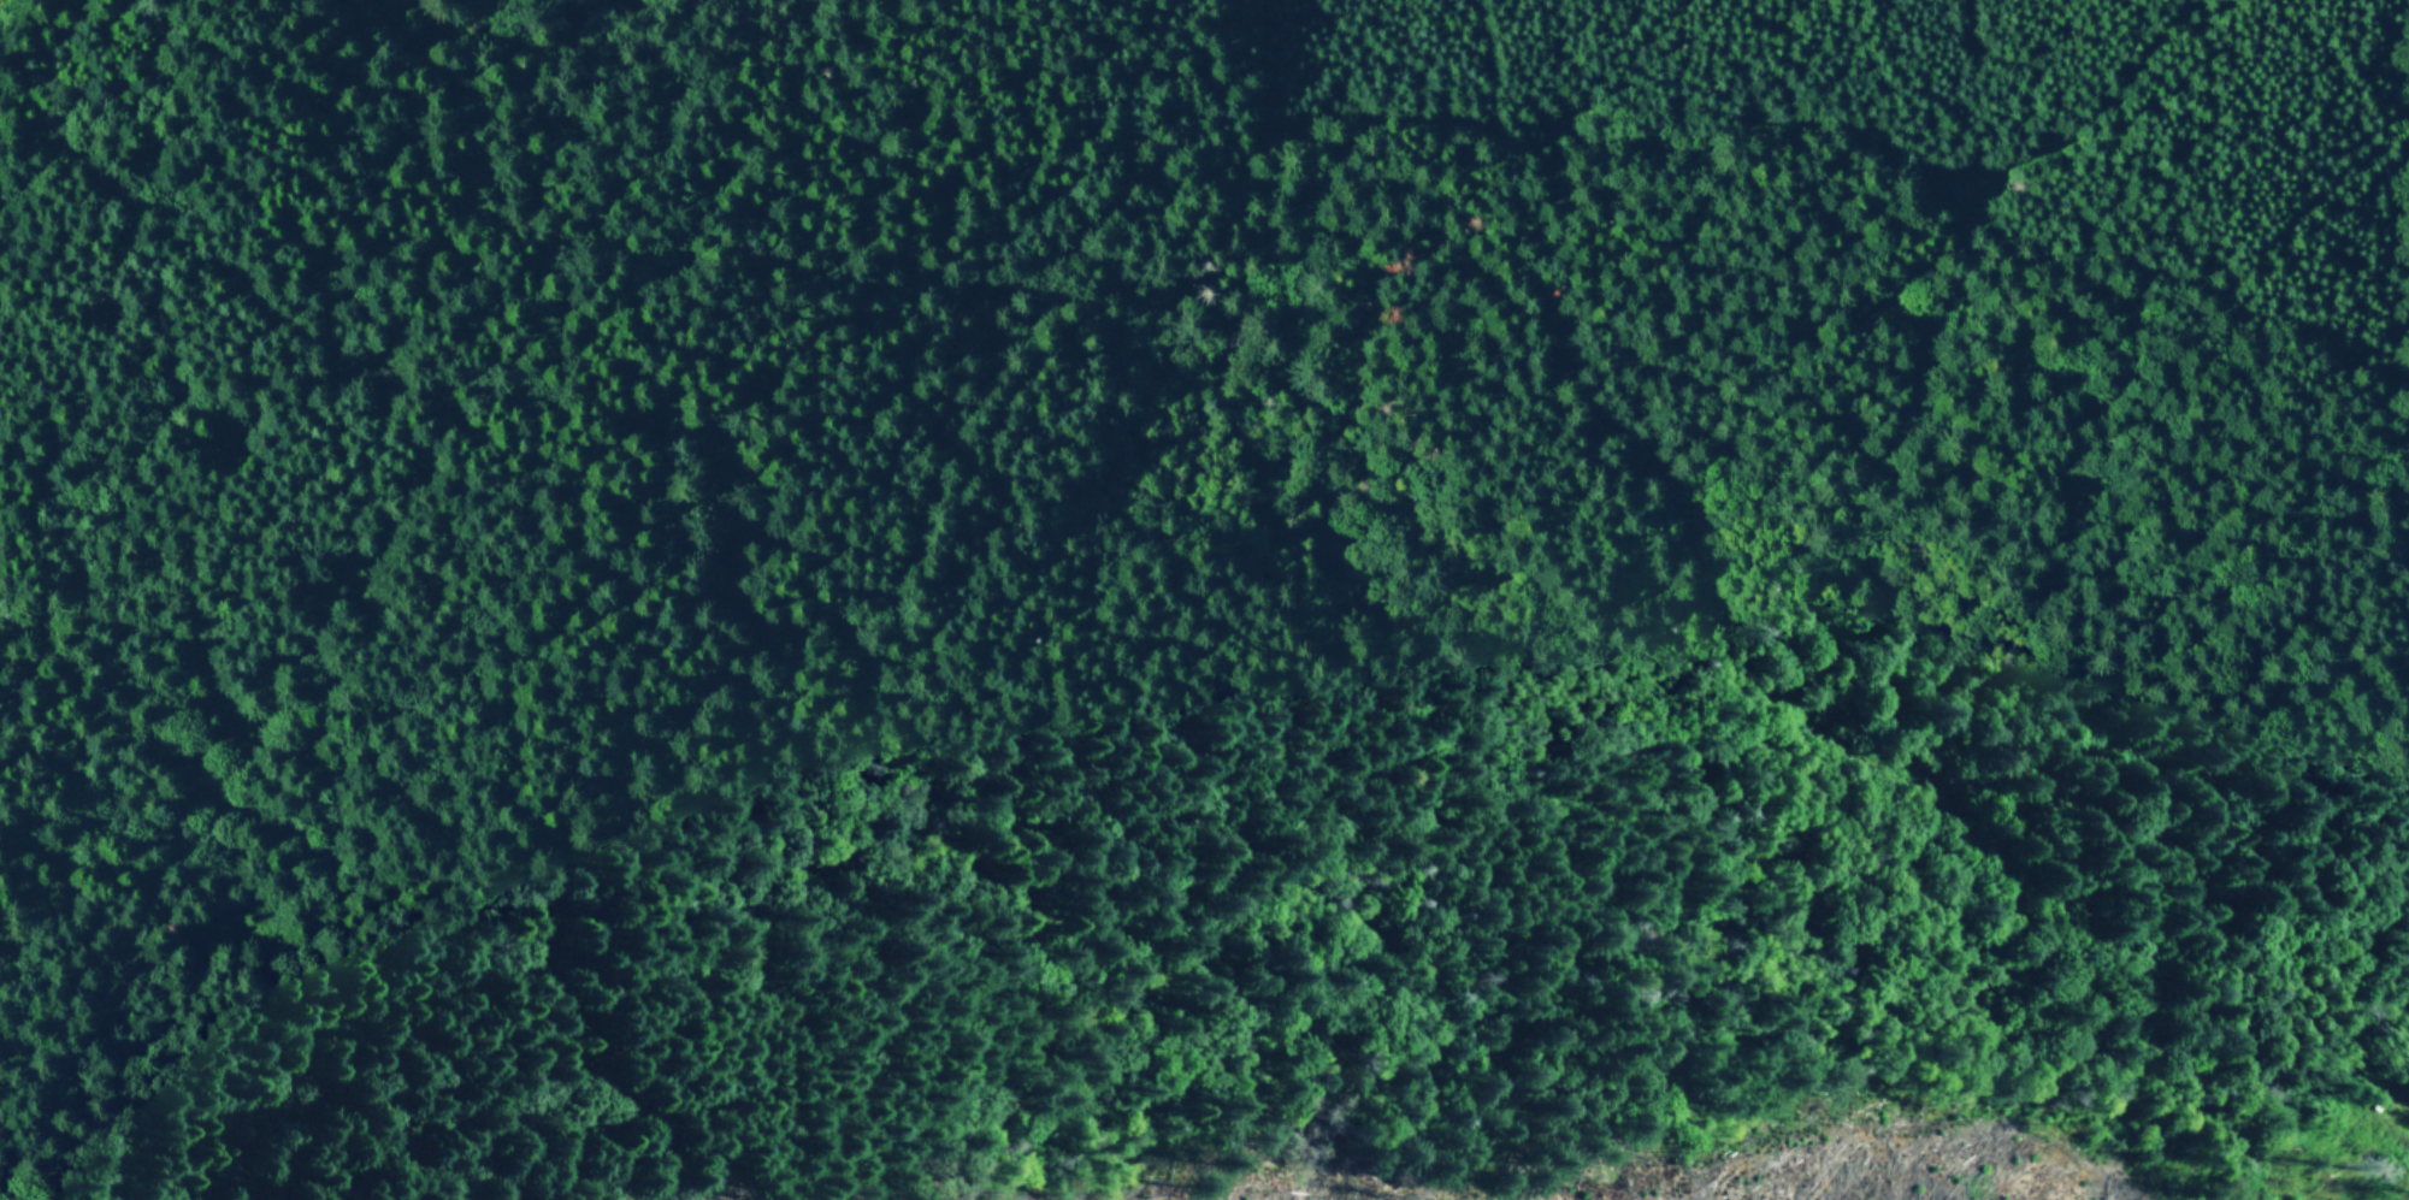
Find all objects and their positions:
road: (1299, 94)

